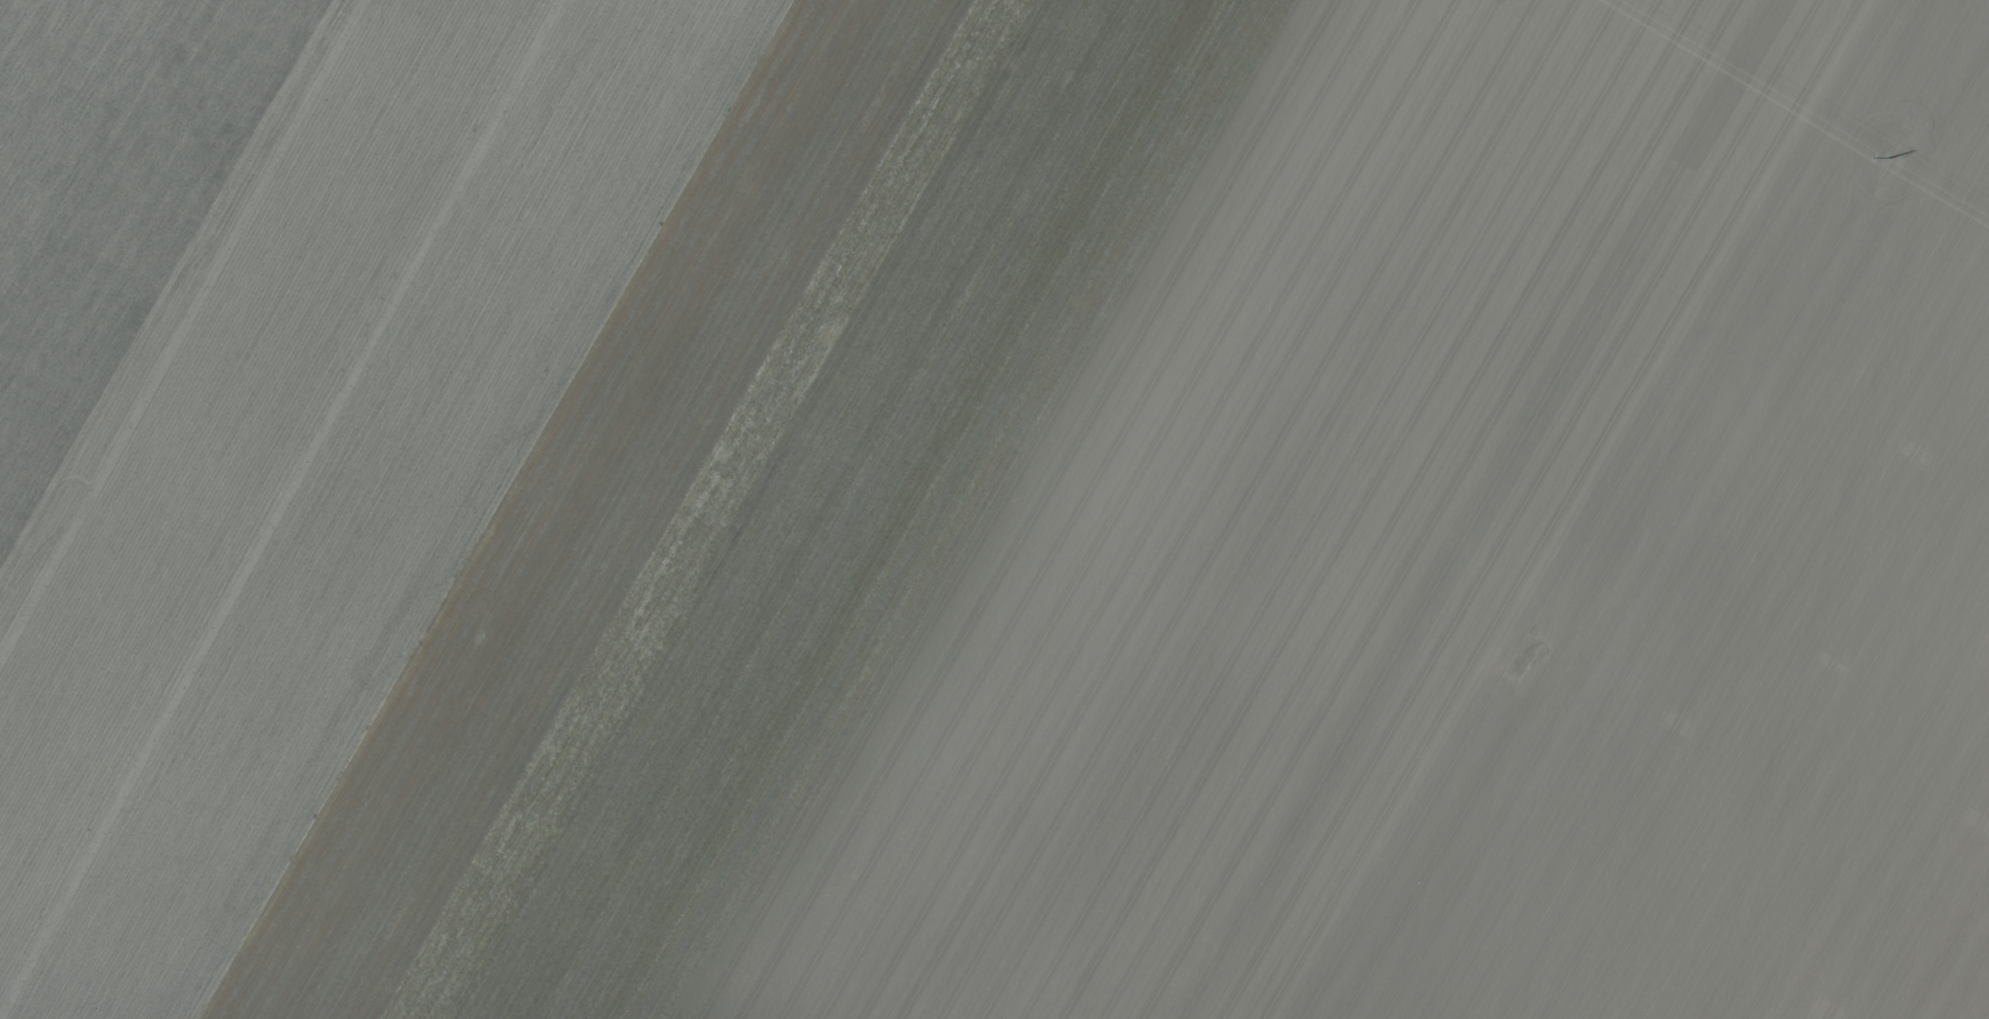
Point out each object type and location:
power tower: (1885, 158)

